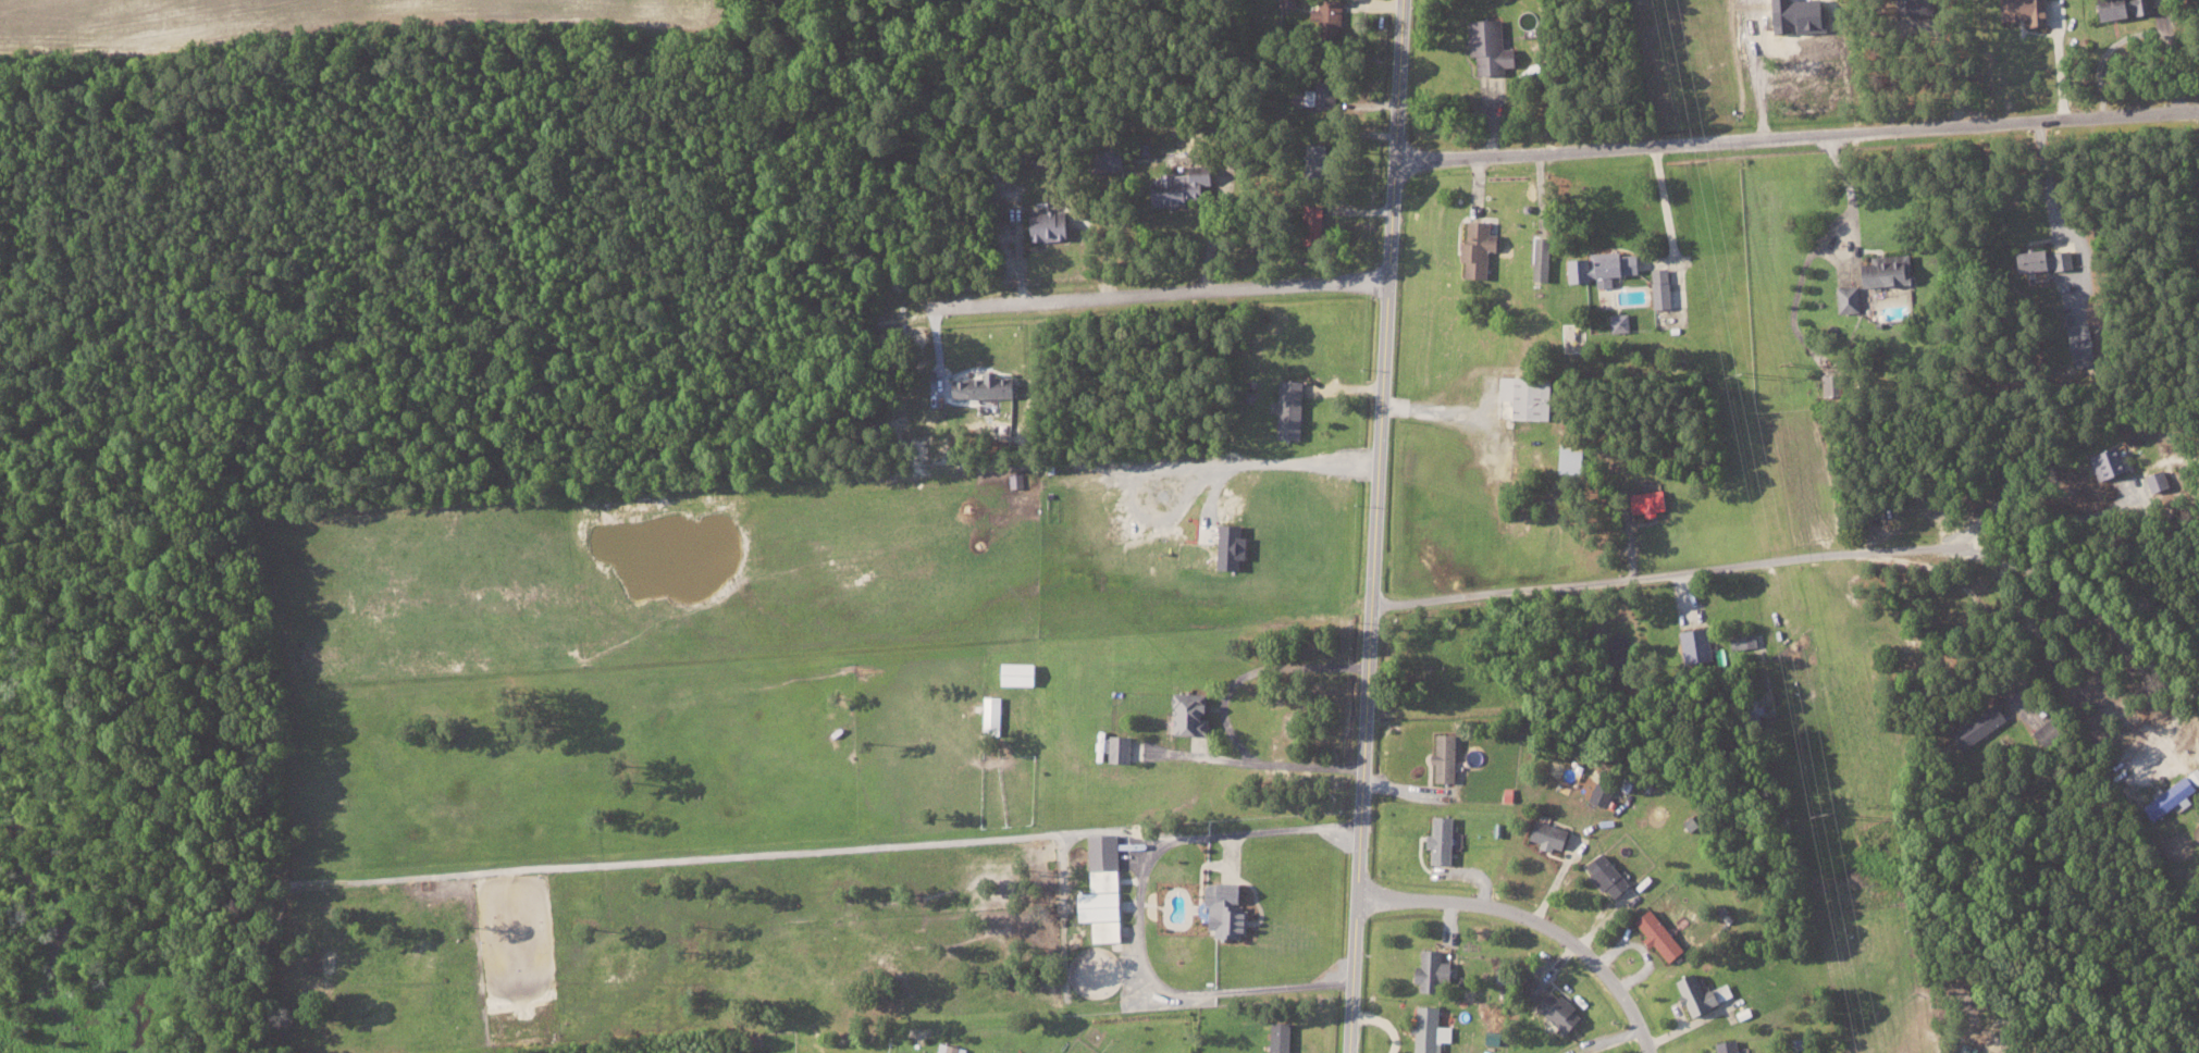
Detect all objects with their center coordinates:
building: (1289, 2)
building: (2113, 8)
building: (2018, 10)
building: (1331, 15)
building: (1494, 47)
building: (1323, 95)
road: (1796, 135)
building: (1185, 185)
building: (1052, 225)
building: (1482, 248)
building: (1545, 258)
building: (2036, 259)
building: (1606, 267)
building: (1880, 269)
road: (1160, 293)
building: (1844, 298)
building: (1622, 322)
building: (2076, 340)
power tower: (1786, 363)
power tower: (1739, 373)
building: (988, 385)
building: (1529, 396)
building: (1294, 408)
building: (1576, 455)
building: (2104, 460)
building: (1647, 501)
road: (1375, 525)
building: (1235, 545)
road: (1675, 571)
road: (1966, 586)
building: (1700, 644)
building: (1021, 672)
building: (993, 711)
building: (1195, 713)
building: (1974, 726)
building: (2038, 732)
building: (1123, 747)
building: (1449, 757)
building: (2166, 796)
power tower: (1873, 804)
power tower: (1827, 812)
building: (1553, 834)
building: (1446, 839)
building: (1107, 860)
building: (1610, 875)
building: (1102, 904)
road: (1139, 908)
building: (1232, 908)
road: (1532, 920)
building: (1109, 930)
building: (1661, 933)
building: (1435, 968)
building: (1502, 974)
building: (1706, 993)
building: (1562, 1011)
building: (1433, 1029)
building: (1284, 1037)
building: (1730, 1046)
building: (1960, 1048)

